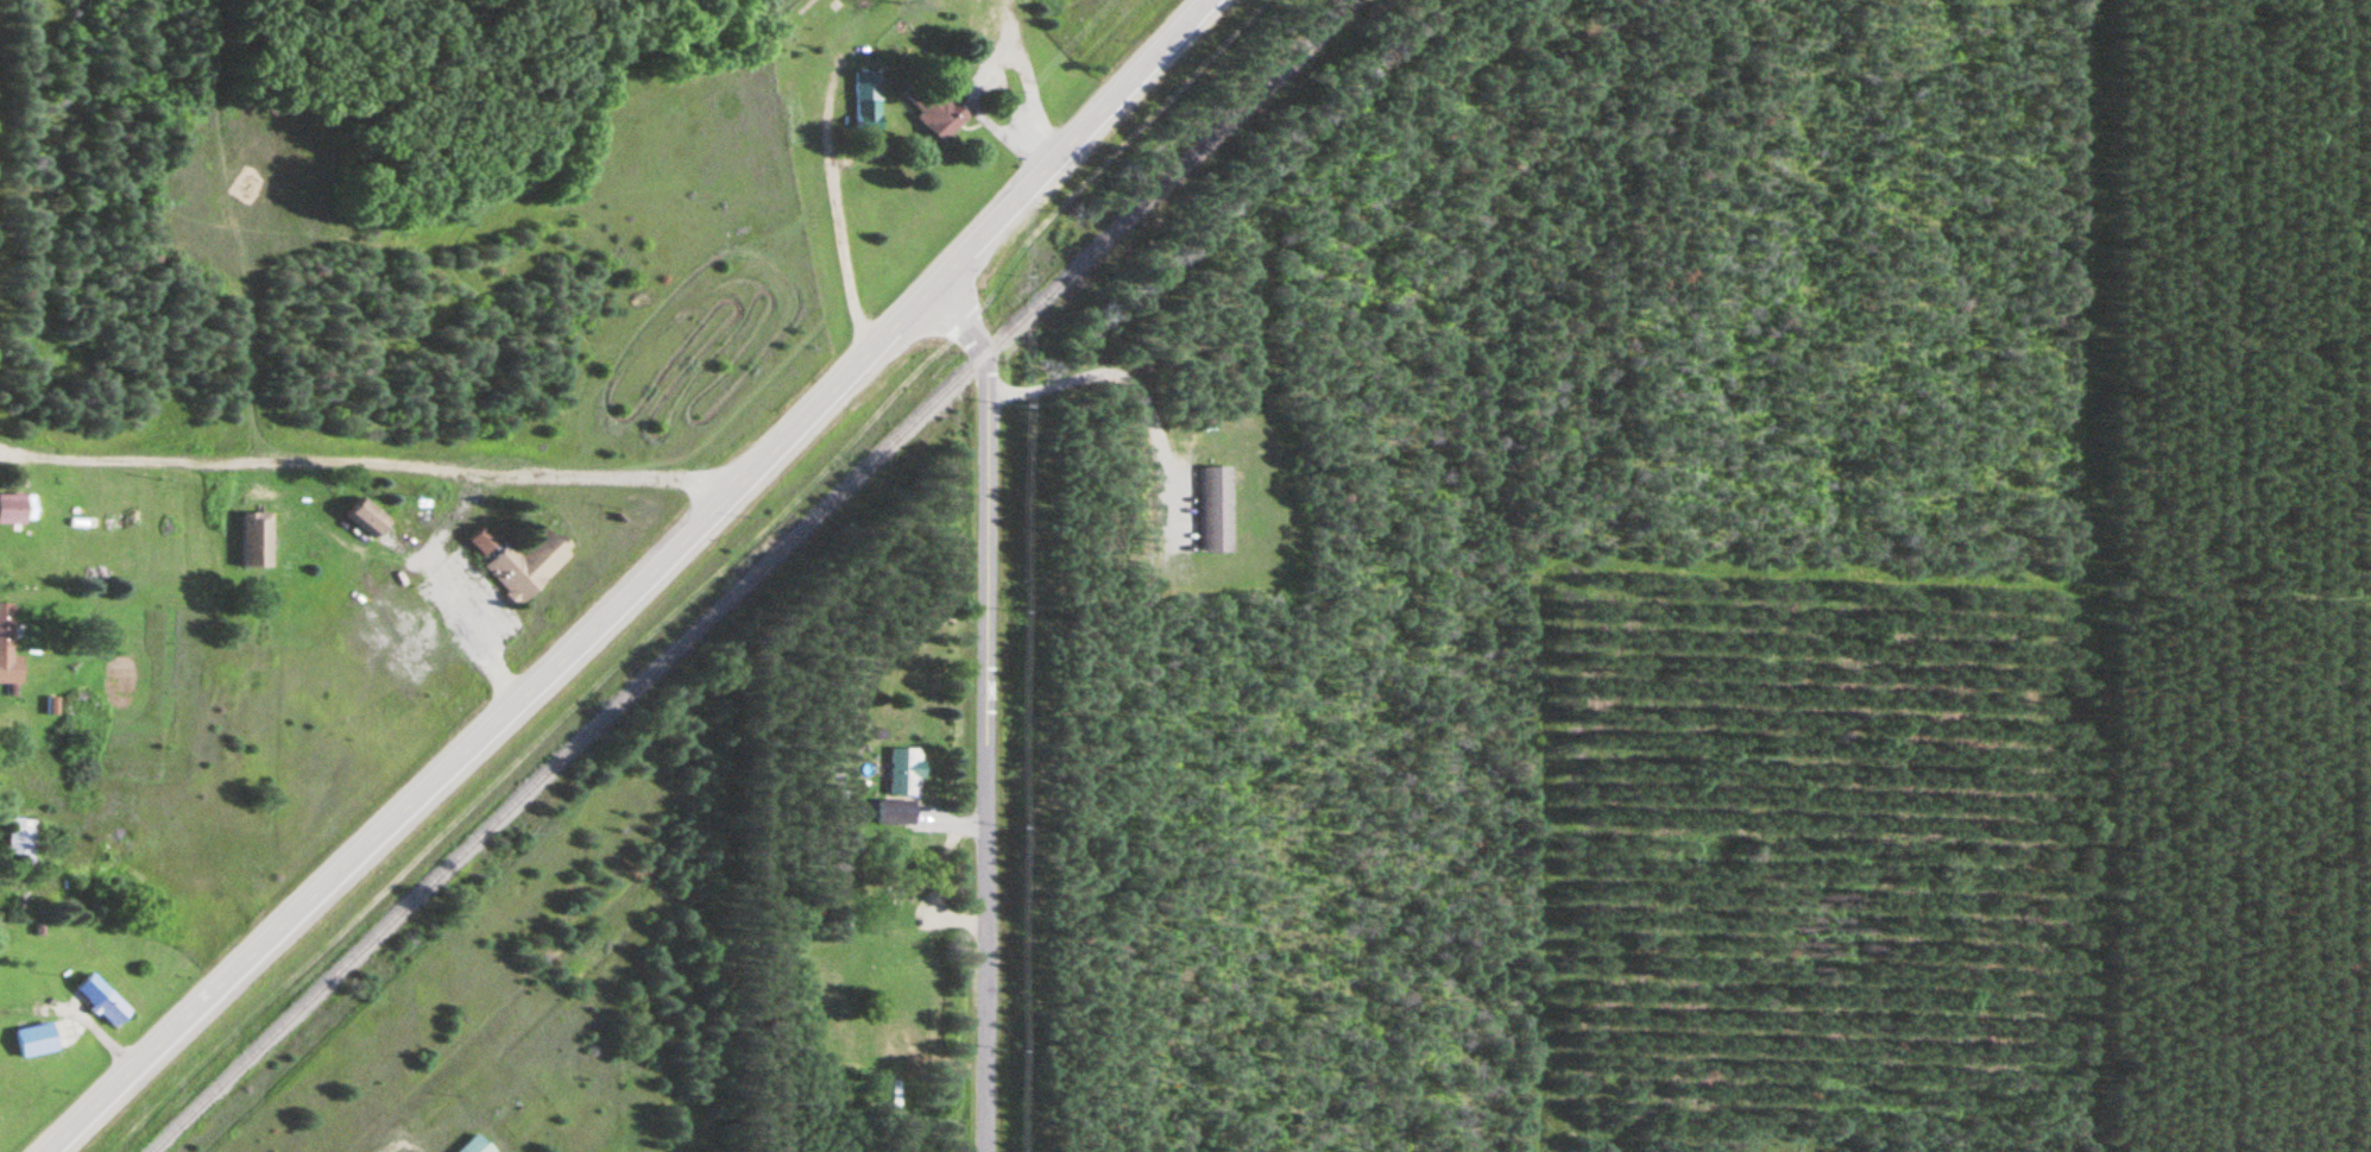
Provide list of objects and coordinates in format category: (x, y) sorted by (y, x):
building: (931, 107)
building: (862, 111)
petroleum well: (242, 184)
road: (1139, 392)
road: (370, 468)
road: (251, 484)
building: (13, 508)
building: (1210, 509)
building: (364, 516)
building: (254, 539)
road: (406, 553)
building: (518, 560)
railway: (749, 574)
road: (694, 579)
road: (631, 585)
road: (439, 587)
parking lot: (431, 613)
building: (7, 653)
road: (980, 712)
building: (901, 769)
building: (893, 811)
road: (947, 821)
building: (18, 839)
road: (938, 868)
road: (0, 880)
road: (947, 919)
building: (107, 1007)
road: (24, 1012)
road: (92, 1031)
building: (890, 1094)
road: (391, 1144)
building: (473, 1145)

